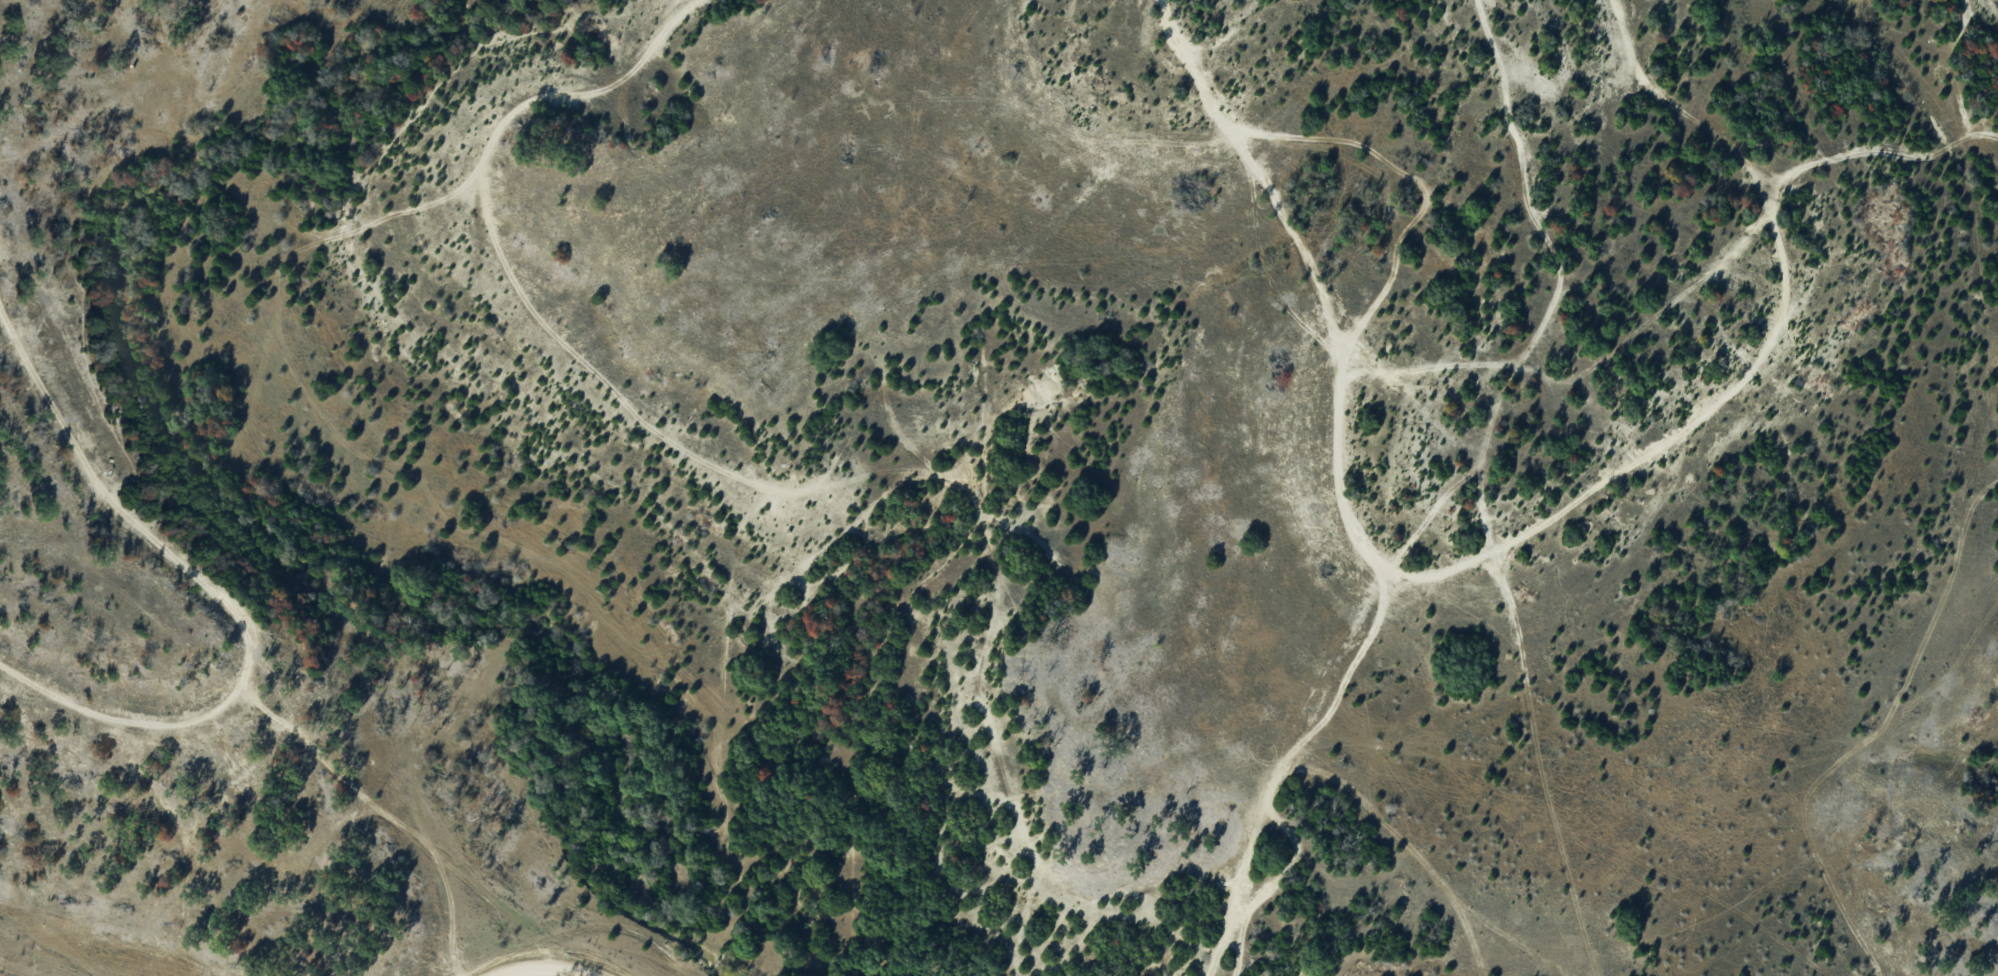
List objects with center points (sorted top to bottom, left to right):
road: (551, 967)

